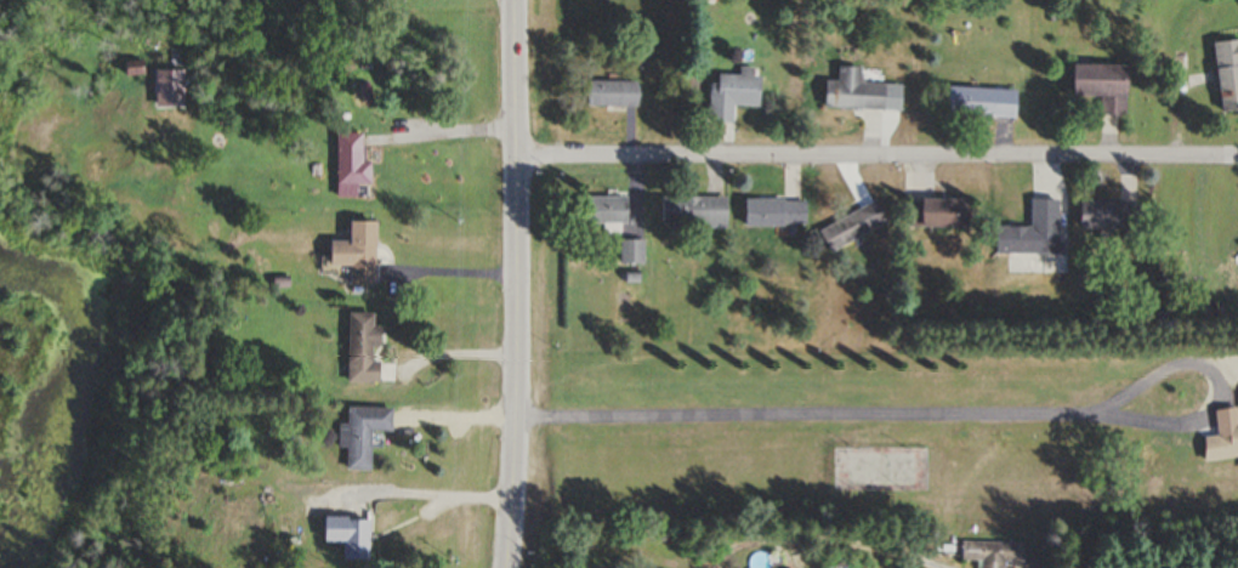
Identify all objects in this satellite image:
park: (306, 1)
building: (1227, 75)
building: (1101, 86)
building: (852, 93)
building: (612, 95)
building: (732, 95)
building: (981, 103)
road: (876, 155)
building: (350, 161)
building: (604, 211)
building: (693, 214)
building: (774, 214)
building: (936, 215)
building: (1098, 216)
building: (852, 227)
building: (1029, 232)
building: (631, 252)
building: (356, 254)
road: (516, 284)
building: (362, 351)
road: (447, 352)
road: (878, 419)
building: (362, 434)
building: (1222, 437)
road: (421, 490)
building: (347, 536)
building: (996, 553)

